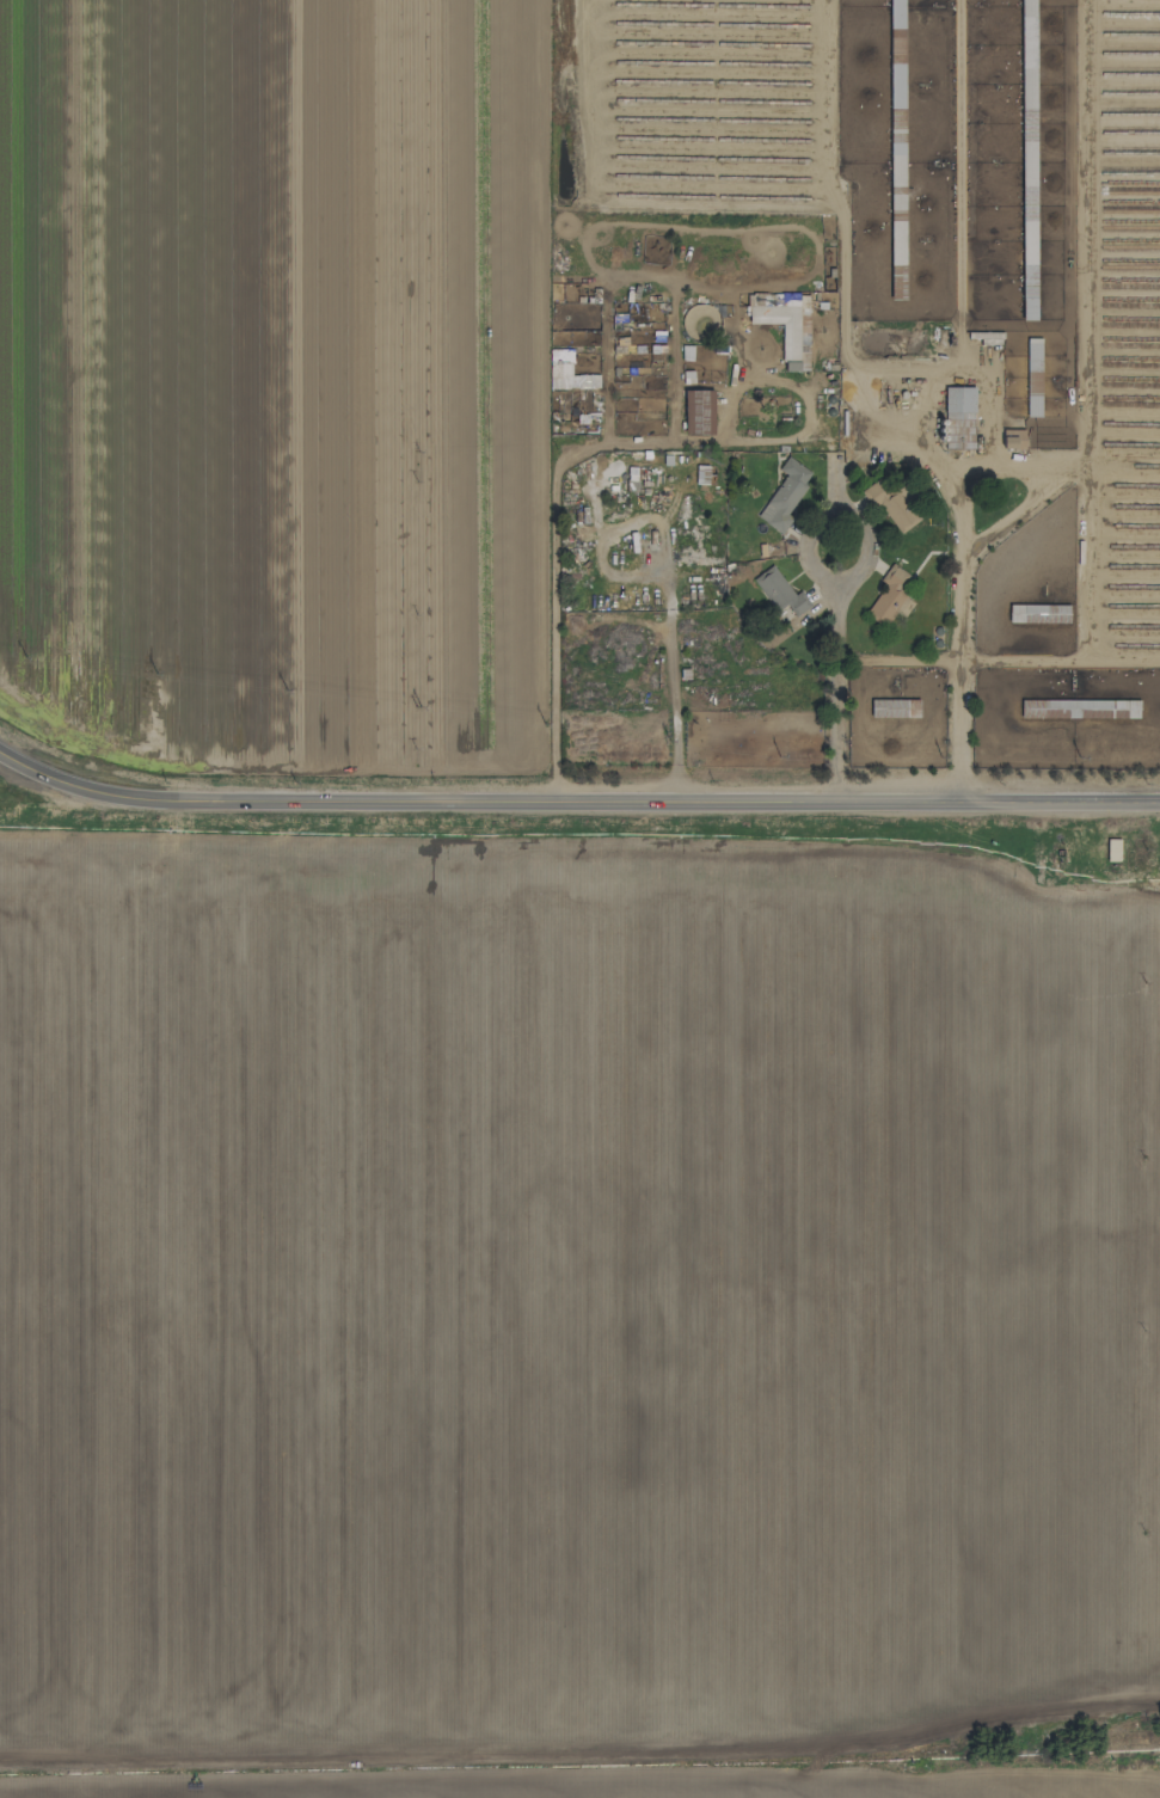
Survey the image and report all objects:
building: (895, 149)
building: (1026, 159)
building: (785, 325)
building: (1031, 376)
building: (698, 411)
building: (957, 417)
building: (1011, 437)
road: (775, 438)
road: (949, 460)
building: (782, 495)
building: (894, 504)
road: (963, 508)
building: (778, 590)
building: (889, 596)
road: (554, 625)
road: (960, 661)
building: (886, 707)
road: (575, 809)
building: (1111, 849)
crop: (578, 1307)

